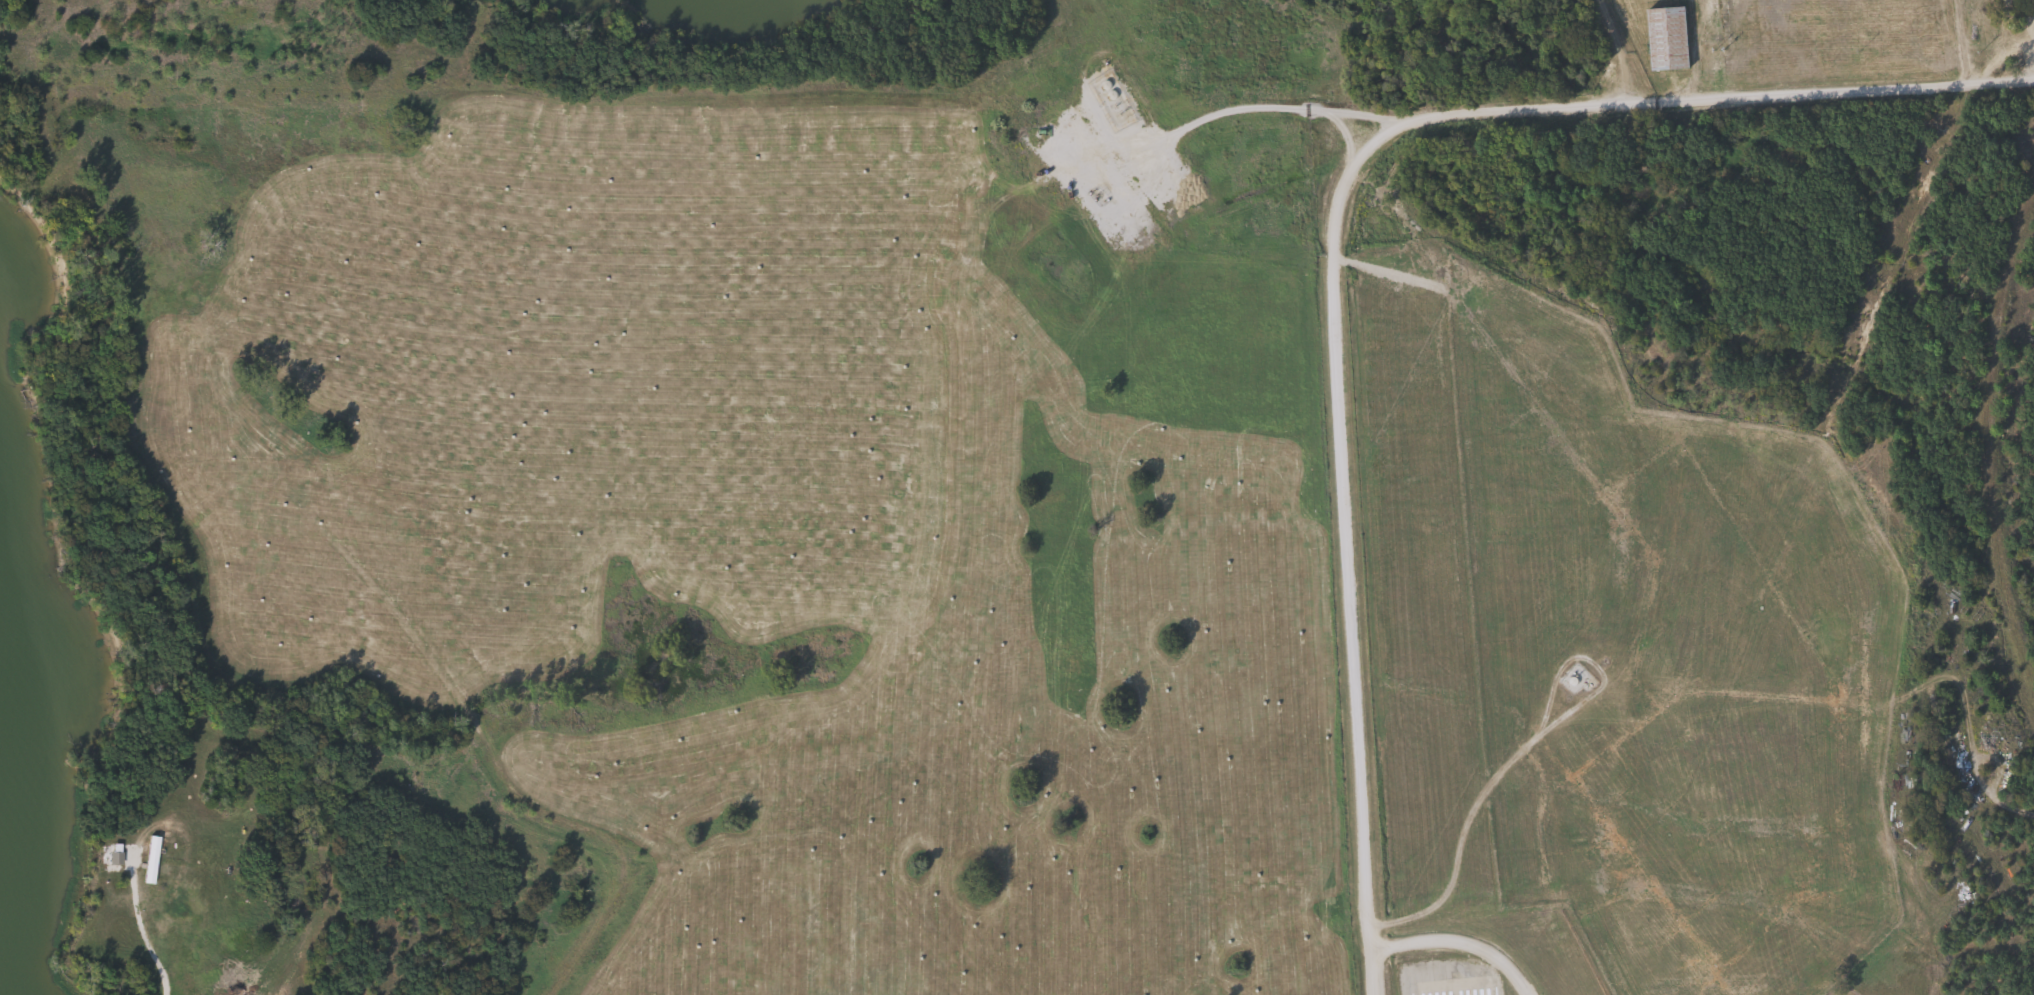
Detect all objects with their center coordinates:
building: (2003, 14)
building: (1663, 39)
road: (1333, 290)
road: (2001, 467)
road: (145, 936)
airport: (1472, 958)
road: (1374, 970)
airport runway: (1452, 980)
airport: (1841, 991)

